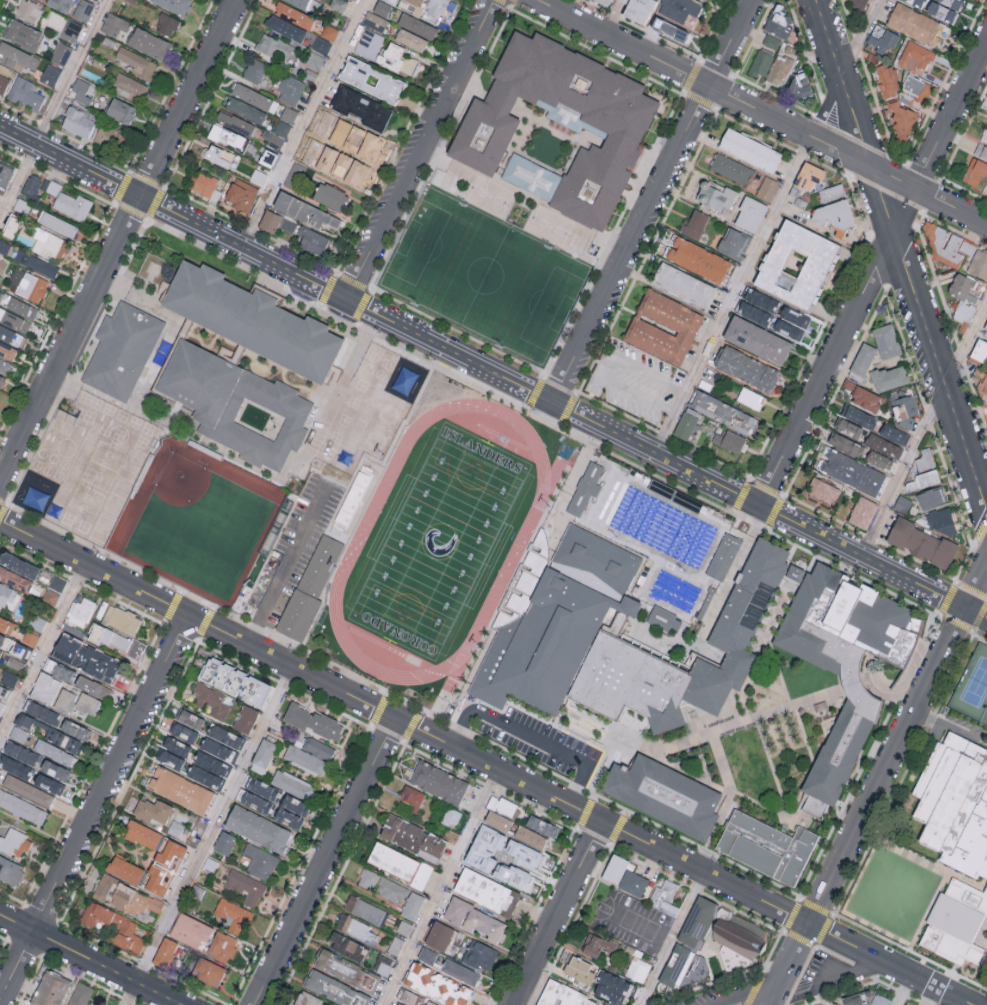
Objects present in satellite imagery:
building: (698, 0)
building: (392, 1)
building: (603, 2)
building: (270, 3)
building: (298, 3)
building: (918, 3)
building: (951, 3)
building: (338, 4)
building: (859, 4)
building: (59, 5)
building: (174, 5)
building: (412, 5)
building: (382, 8)
building: (28, 10)
building: (83, 10)
building: (434, 10)
building: (678, 10)
building: (639, 11)
building: (941, 12)
building: (293, 15)
road: (615, 17)
building: (373, 20)
building: (167, 24)
building: (114, 25)
building: (916, 25)
building: (416, 26)
building: (781, 26)
building: (284, 28)
building: (71, 31)
building: (329, 32)
building: (22, 35)
building: (680, 36)
road: (857, 36)
building: (410, 39)
building: (883, 40)
building: (368, 43)
building: (771, 43)
building: (149, 44)
building: (321, 45)
building: (272, 47)
building: (61, 54)
building: (16, 56)
building: (914, 58)
building: (395, 59)
building: (872, 60)
building: (137, 63)
building: (760, 65)
building: (781, 68)
building: (254, 70)
building: (50, 74)
building: (371, 80)
building: (3, 81)
building: (888, 81)
building: (128, 85)
building: (801, 88)
building: (290, 89)
building: (917, 90)
building: (82, 91)
building: (25, 93)
building: (252, 97)
road: (824, 103)
building: (360, 108)
building: (245, 110)
road: (54, 111)
building: (120, 111)
road: (762, 111)
building: (289, 114)
building: (903, 116)
building: (319, 117)
building: (77, 121)
building: (235, 123)
road: (302, 123)
building: (562, 123)
building: (278, 133)
building: (227, 136)
building: (984, 136)
building: (360, 142)
road: (420, 149)
building: (311, 150)
building: (751, 152)
building: (981, 152)
building: (218, 155)
building: (267, 158)
building: (241, 166)
building: (729, 169)
building: (346, 170)
building: (975, 171)
building: (5, 173)
building: (258, 176)
building: (531, 177)
building: (289, 179)
building: (807, 180)
building: (202, 183)
building: (51, 186)
building: (32, 187)
building: (767, 188)
building: (716, 194)
building: (830, 194)
building: (215, 195)
building: (240, 196)
building: (329, 196)
road: (652, 200)
building: (72, 206)
building: (303, 211)
building: (750, 213)
building: (836, 219)
building: (269, 222)
building: (694, 223)
building: (57, 224)
building: (311, 241)
building: (734, 242)
building: (49, 244)
road: (119, 244)
building: (947, 246)
building: (4, 247)
road: (900, 255)
building: (698, 258)
building: (35, 263)
building: (2, 264)
building: (797, 266)
building: (979, 266)
road: (873, 273)
building: (683, 283)
building: (27, 285)
building: (962, 287)
road: (730, 292)
building: (758, 305)
building: (21, 308)
building: (964, 315)
building: (14, 321)
building: (254, 321)
building: (790, 321)
building: (663, 326)
building: (985, 329)
building: (10, 337)
building: (757, 338)
building: (887, 341)
building: (124, 351)
building: (7, 352)
building: (980, 352)
building: (864, 361)
building: (5, 367)
building: (747, 367)
road: (603, 368)
road: (493, 371)
building: (1, 379)
building: (890, 380)
building: (983, 390)
building: (750, 397)
building: (860, 397)
building: (237, 404)
building: (905, 408)
building: (723, 411)
building: (861, 419)
building: (686, 423)
road: (922, 426)
building: (850, 430)
building: (894, 435)
building: (730, 440)
building: (847, 446)
building: (884, 447)
building: (206, 450)
building: (924, 461)
building: (881, 463)
building: (853, 474)
building: (142, 477)
building: (923, 482)
building: (586, 487)
building: (822, 491)
building: (352, 497)
building: (34, 498)
building: (931, 501)
building: (902, 503)
building: (862, 513)
park: (196, 522)
building: (943, 523)
park: (439, 540)
track: (359, 541)
building: (921, 543)
parking lot: (295, 548)
building: (723, 555)
road: (289, 559)
building: (18, 564)
building: (14, 578)
building: (56, 582)
building: (311, 591)
building: (8, 596)
building: (49, 596)
track: (335, 598)
building: (80, 611)
building: (121, 619)
building: (662, 619)
building: (6, 624)
building: (558, 624)
building: (738, 631)
building: (108, 636)
road: (42, 649)
building: (0, 650)
building: (135, 650)
building: (85, 656)
building: (15, 662)
building: (48, 664)
building: (845, 664)
building: (63, 672)
building: (9, 678)
building: (234, 680)
building: (630, 684)
building: (90, 685)
building: (44, 687)
park: (973, 687)
building: (4, 692)
building: (64, 700)
building: (212, 700)
building: (87, 703)
building: (1, 705)
building: (39, 711)
building: (296, 714)
building: (190, 718)
building: (245, 718)
building: (23, 719)
park: (985, 719)
building: (325, 725)
building: (74, 728)
building: (183, 731)
building: (18, 734)
road: (571, 734)
building: (225, 735)
road: (531, 737)
building: (62, 739)
parking lot: (535, 740)
building: (216, 748)
building: (52, 751)
building: (20, 752)
building: (173, 752)
building: (310, 754)
building: (262, 755)
building: (211, 763)
road: (485, 763)
building: (13, 766)
building: (54, 769)
building: (204, 776)
building: (438, 781)
building: (48, 783)
building: (293, 783)
road: (878, 785)
building: (27, 789)
building: (179, 789)
building: (256, 793)
building: (411, 797)
building: (664, 798)
building: (503, 805)
building: (956, 806)
building: (22, 807)
road: (94, 809)
building: (153, 810)
building: (291, 810)
building: (450, 816)
building: (497, 820)
building: (542, 825)
building: (257, 827)
building: (402, 832)
building: (142, 833)
road: (207, 836)
building: (530, 836)
building: (14, 842)
building: (224, 842)
building: (431, 847)
building: (767, 848)
building: (521, 852)
building: (478, 853)
building: (260, 860)
road: (325, 862)
building: (399, 864)
building: (125, 868)
building: (163, 868)
building: (10, 870)
building: (623, 875)
building: (382, 885)
building: (245, 886)
road: (439, 887)
building: (486, 891)
park: (893, 893)
building: (985, 894)
building: (126, 896)
building: (664, 897)
building: (411, 905)
building: (365, 909)
road: (558, 913)
building: (233, 914)
building: (474, 919)
building: (697, 921)
building: (955, 924)
building: (114, 925)
road: (636, 925)
building: (356, 928)
building: (190, 929)
building: (438, 935)
road: (665, 937)
building: (739, 937)
building: (395, 945)
building: (599, 945)
building: (222, 946)
building: (347, 946)
building: (164, 952)
building: (426, 955)
building: (483, 956)
road: (89, 960)
building: (383, 964)
road: (838, 966)
building: (677, 967)
building: (637, 969)
building: (207, 970)
building: (346, 970)
building: (460, 971)
building: (579, 971)
building: (437, 985)
building: (612, 986)
building: (49, 988)
building: (334, 989)
road: (900, 989)
building: (80, 994)
building: (408, 996)
building: (563, 996)
road: (755, 998)
building: (306, 999)
building: (852, 999)
building: (879, 1000)
building: (98, 1003)
building: (429, 1003)
building: (398, 1004)
building: (817, 1004)

